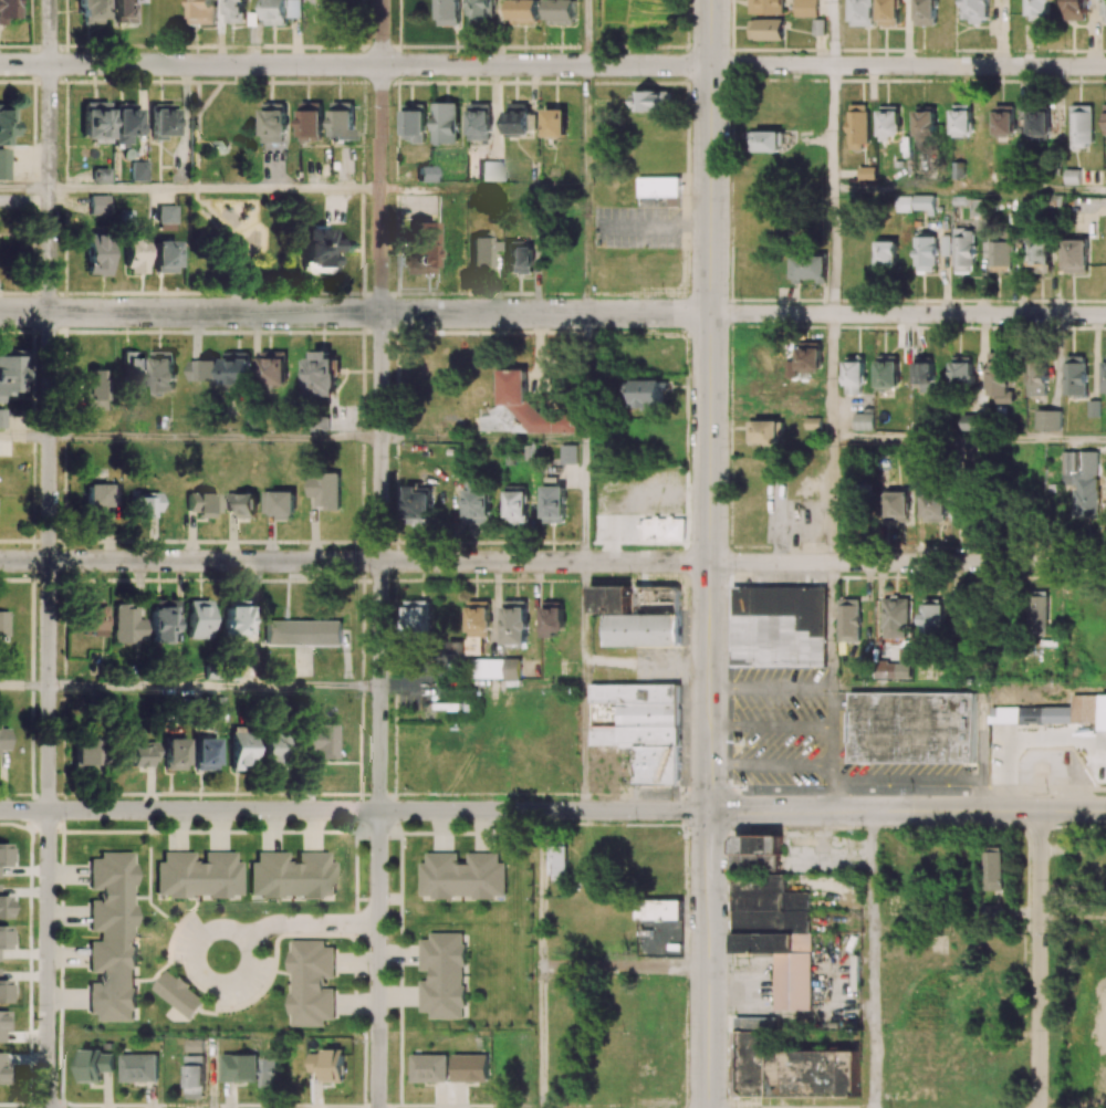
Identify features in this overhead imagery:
building: (766, 7)
building: (805, 8)
building: (8, 10)
building: (482, 10)
building: (1039, 10)
building: (1075, 10)
building: (90, 11)
building: (201, 11)
building: (234, 11)
building: (281, 11)
building: (524, 11)
building: (560, 11)
building: (974, 11)
building: (1104, 11)
building: (124, 12)
building: (449, 12)
building: (862, 12)
building: (888, 12)
building: (926, 12)
building: (765, 29)
road: (585, 32)
road: (834, 33)
road: (355, 65)
road: (908, 66)
building: (651, 100)
building: (1105, 117)
building: (518, 118)
building: (961, 118)
building: (1004, 119)
building: (161, 121)
building: (311, 121)
building: (342, 121)
building: (925, 121)
building: (94, 122)
building: (479, 122)
building: (6, 123)
building: (124, 123)
building: (273, 123)
building: (414, 123)
building: (446, 123)
building: (554, 123)
building: (888, 123)
building: (1039, 123)
building: (1082, 125)
road: (585, 127)
building: (857, 127)
road: (833, 128)
building: (765, 140)
building: (3, 164)
building: (553, 169)
building: (138, 171)
building: (178, 171)
building: (490, 171)
building: (866, 173)
building: (425, 174)
building: (100, 176)
building: (1072, 176)
building: (661, 188)
road: (25, 189)
road: (216, 190)
road: (483, 190)
road: (969, 190)
building: (924, 202)
building: (97, 205)
building: (166, 215)
building: (315, 247)
building: (421, 248)
building: (963, 250)
building: (453, 252)
building: (482, 252)
road: (585, 252)
road: (833, 252)
building: (135, 253)
building: (926, 253)
building: (96, 254)
building: (886, 254)
building: (1039, 254)
building: (1000, 255)
building: (1076, 255)
building: (518, 257)
building: (164, 258)
building: (810, 268)
street lamp: (33, 293)
road: (355, 313)
road: (908, 315)
building: (810, 356)
building: (763, 358)
building: (133, 367)
building: (237, 367)
building: (273, 367)
building: (205, 368)
building: (791, 368)
building: (961, 370)
building: (1104, 370)
building: (164, 372)
building: (9, 373)
building: (922, 373)
building: (886, 374)
building: (322, 375)
building: (854, 375)
building: (1075, 375)
road: (584, 377)
road: (832, 377)
building: (1000, 378)
building: (1036, 378)
building: (93, 386)
building: (647, 394)
building: (1093, 408)
building: (522, 409)
building: (1, 418)
building: (1047, 420)
building: (863, 421)
building: (971, 422)
building: (768, 431)
road: (25, 437)
road: (216, 438)
road: (482, 439)
road: (969, 440)
building: (568, 453)
building: (1083, 482)
building: (324, 490)
building: (100, 496)
road: (583, 501)
road: (832, 501)
building: (231, 502)
building: (280, 503)
building: (515, 503)
building: (201, 504)
building: (478, 504)
building: (554, 504)
building: (143, 505)
building: (246, 505)
building: (897, 505)
building: (417, 506)
building: (933, 506)
building: (961, 509)
building: (662, 529)
road: (50, 553)
road: (380, 554)
road: (710, 554)
road: (354, 562)
road: (907, 564)
street lamp: (63, 573)
building: (1036, 613)
building: (638, 614)
building: (932, 615)
building: (416, 616)
building: (895, 617)
building: (92, 618)
building: (553, 618)
building: (198, 619)
building: (848, 619)
building: (163, 621)
building: (234, 621)
building: (515, 621)
building: (3, 624)
building: (127, 625)
road: (584, 625)
building: (477, 626)
building: (779, 626)
building: (303, 633)
building: (895, 667)
building: (511, 669)
road: (24, 684)
road: (215, 686)
road: (771, 686)
road: (482, 687)
road: (832, 688)
building: (1068, 712)
road: (771, 727)
building: (912, 727)
building: (645, 728)
building: (4, 738)
building: (320, 740)
building: (240, 749)
road: (585, 750)
building: (271, 752)
building: (83, 753)
building: (139, 754)
building: (174, 754)
building: (204, 754)
road: (771, 763)
road: (355, 812)
traffic signals: (710, 812)
road: (907, 813)
building: (3, 855)
building: (557, 859)
building: (991, 868)
building: (197, 876)
building: (291, 876)
building: (462, 876)
road: (539, 890)
building: (3, 908)
building: (773, 918)
road: (295, 923)
building: (112, 937)
building: (3, 938)
road: (874, 960)
road: (1039, 960)
road: (624, 969)
building: (442, 975)
building: (310, 982)
building: (3, 991)
building: (178, 994)
building: (3, 1024)
road: (539, 1038)
building: (194, 1045)
building: (94, 1064)
building: (327, 1064)
building: (138, 1067)
building: (239, 1067)
building: (428, 1067)
building: (470, 1067)
building: (790, 1068)
building: (3, 1073)
building: (269, 1075)
building: (194, 1076)

